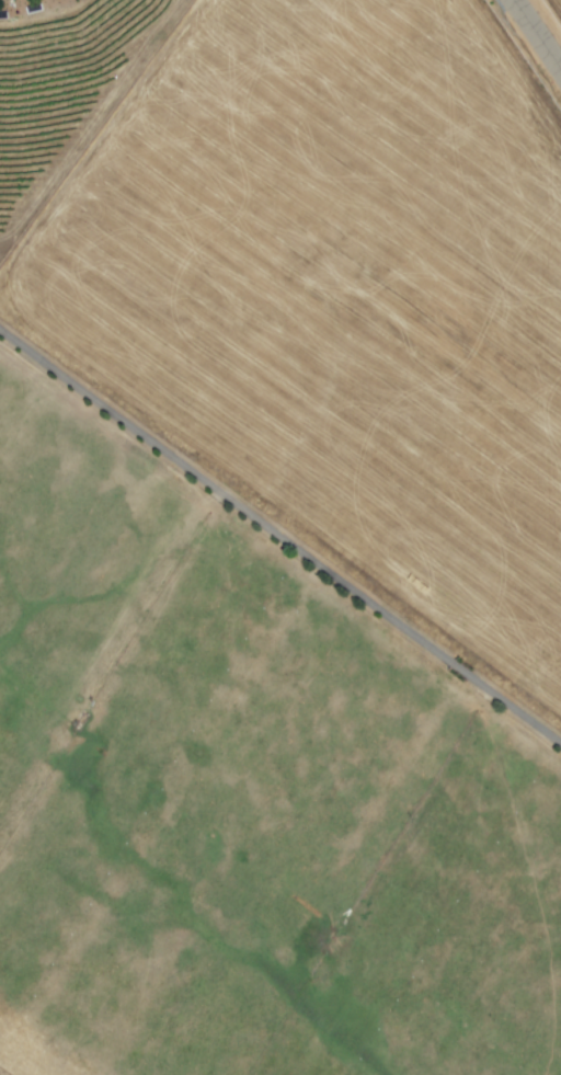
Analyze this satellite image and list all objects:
road: (537, 34)
road: (280, 536)

